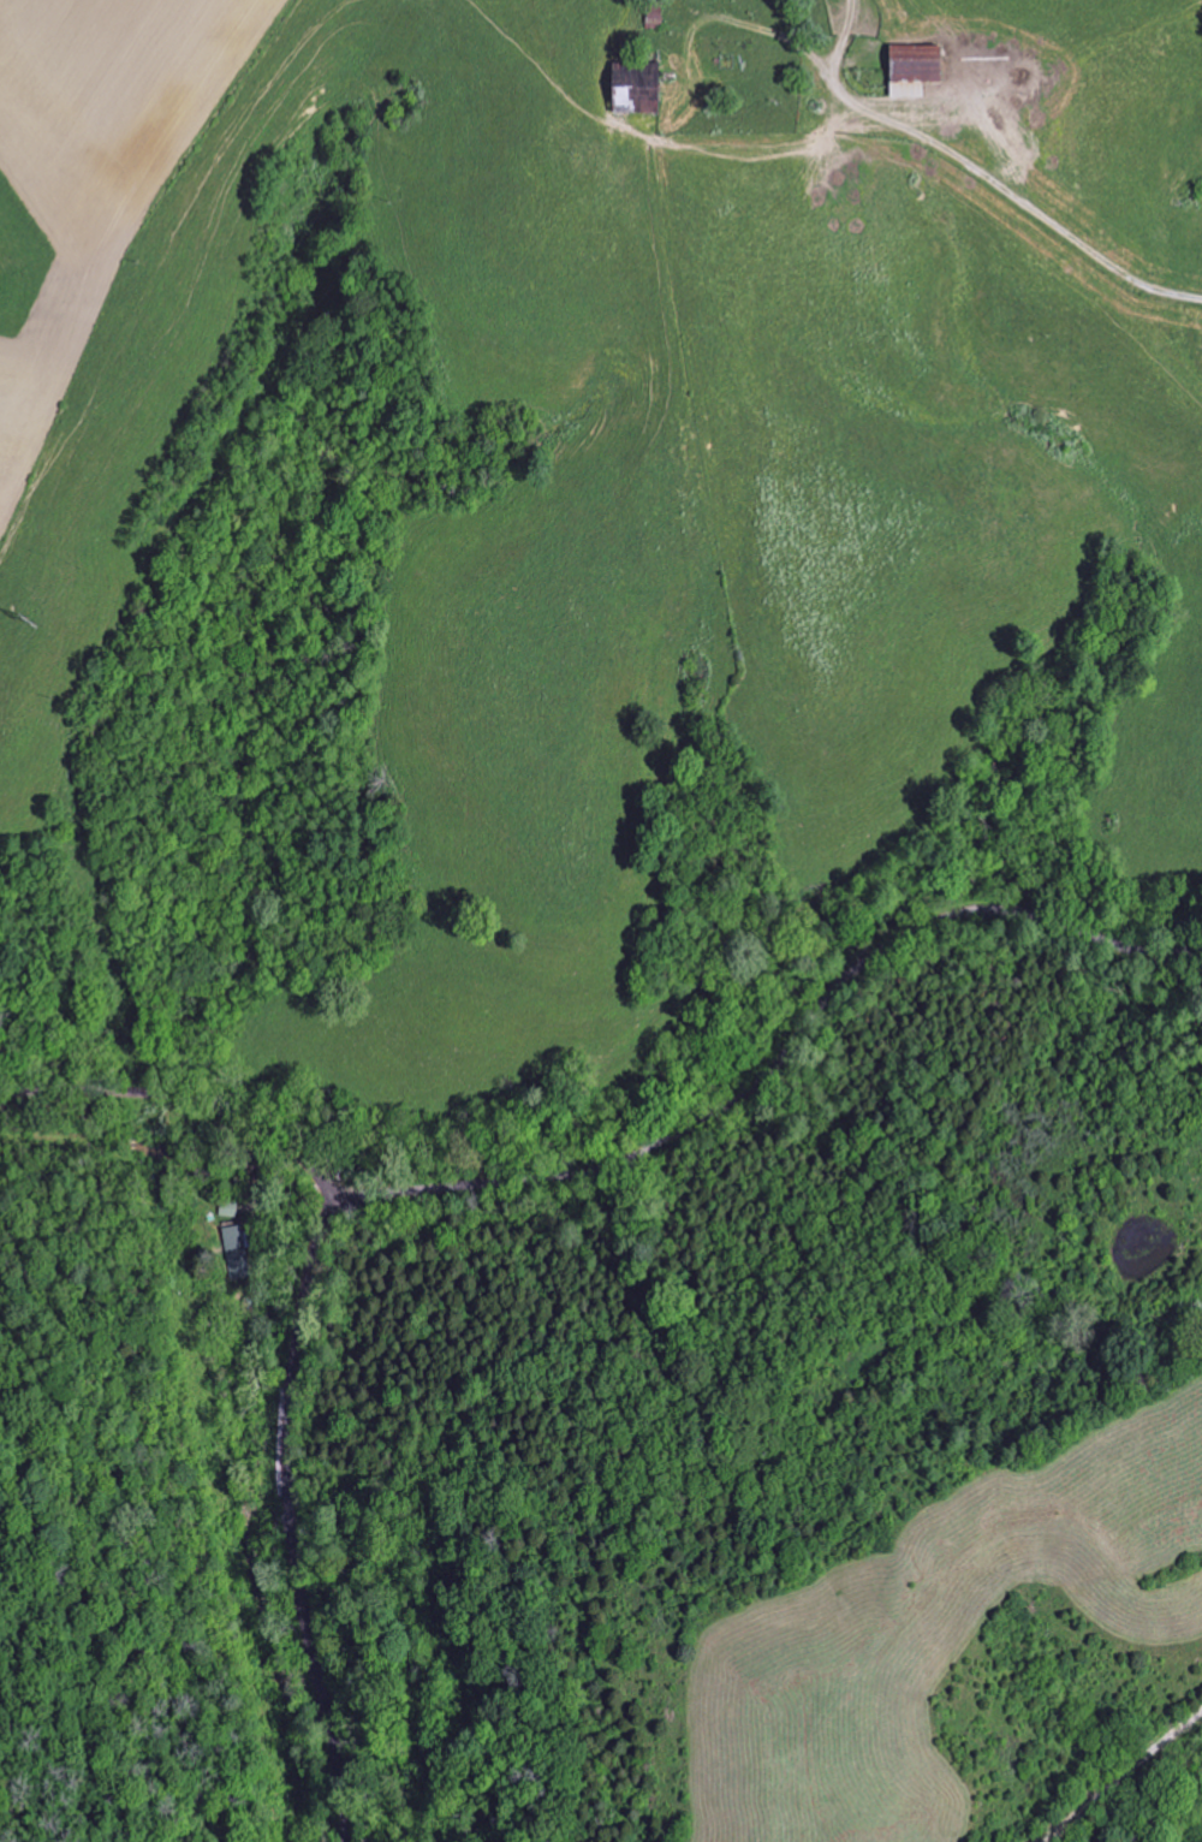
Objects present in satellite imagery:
building: (908, 71)
building: (631, 90)
road: (978, 172)
power tower: (17, 624)
road: (783, 1059)
building: (233, 1242)
road: (298, 1338)
road: (1119, 1773)

